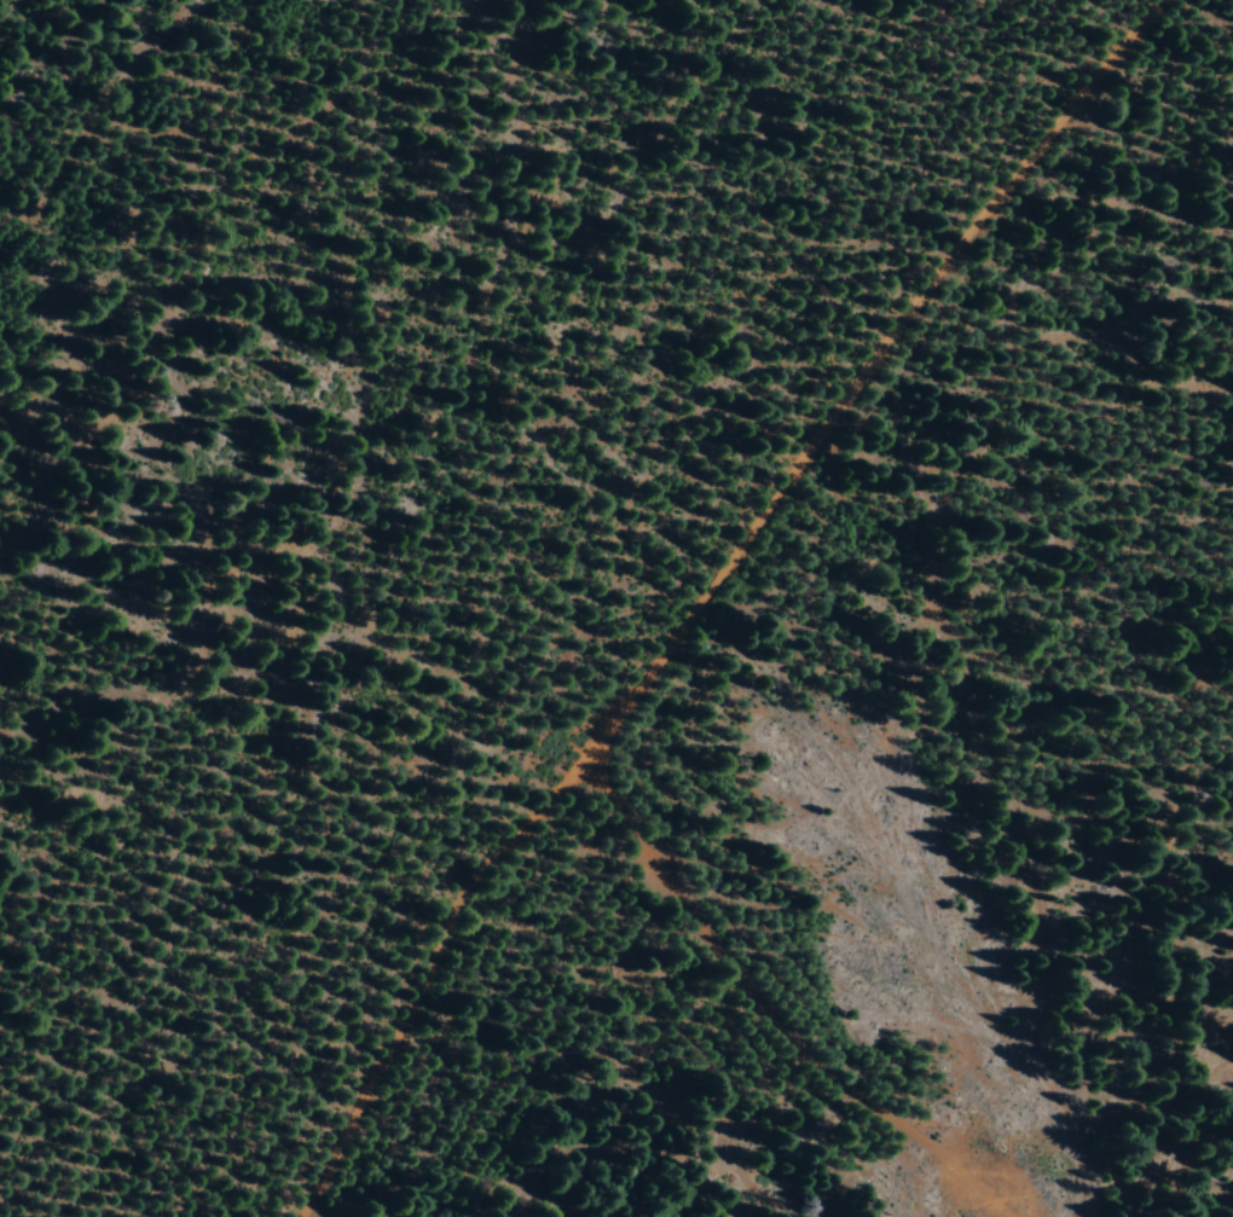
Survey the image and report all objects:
road: (717, 593)

